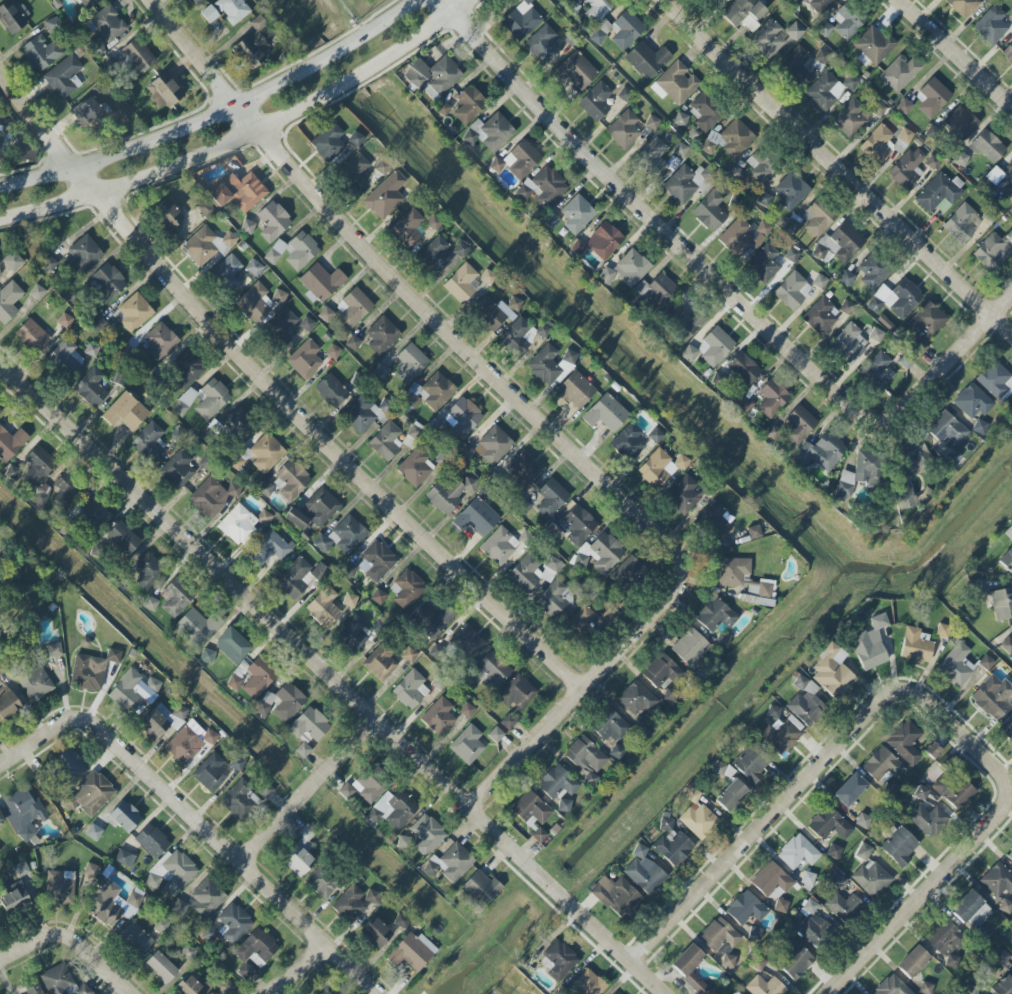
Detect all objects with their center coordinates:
building: (197, 2)
building: (716, 2)
building: (89, 3)
building: (818, 5)
road: (448, 6)
road: (459, 6)
building: (963, 6)
building: (598, 9)
building: (233, 10)
building: (744, 13)
building: (209, 14)
building: (12, 16)
building: (1011, 18)
building: (521, 20)
building: (847, 21)
building: (107, 24)
building: (991, 25)
building: (626, 29)
building: (795, 31)
building: (769, 39)
building: (254, 44)
building: (541, 44)
building: (873, 47)
building: (41, 52)
building: (1008, 53)
road: (954, 54)
building: (135, 58)
building: (647, 60)
building: (798, 63)
building: (576, 71)
building: (900, 73)
building: (433, 76)
building: (64, 77)
building: (850, 82)
building: (675, 84)
building: (163, 90)
building: (824, 91)
building: (933, 97)
building: (595, 102)
building: (468, 105)
building: (904, 106)
building: (878, 110)
building: (87, 111)
road: (216, 113)
building: (704, 113)
building: (0, 119)
building: (851, 119)
building: (681, 120)
building: (652, 122)
building: (961, 123)
building: (624, 130)
building: (933, 132)
building: (489, 133)
building: (905, 136)
road: (237, 138)
building: (735, 138)
building: (355, 139)
building: (328, 142)
building: (878, 145)
building: (987, 146)
building: (680, 150)
building: (652, 157)
building: (521, 159)
building: (960, 159)
building: (932, 162)
building: (496, 165)
building: (382, 167)
road: (841, 168)
building: (907, 168)
building: (760, 169)
building: (354, 172)
building: (1006, 181)
building: (686, 184)
building: (543, 187)
building: (239, 191)
building: (790, 191)
building: (939, 193)
building: (385, 196)
building: (765, 198)
building: (710, 212)
building: (577, 214)
building: (167, 215)
building: (818, 217)
building: (551, 220)
building: (273, 221)
building: (433, 223)
building: (962, 223)
road: (656, 224)
building: (407, 229)
building: (743, 235)
building: (600, 242)
building: (839, 244)
building: (207, 245)
building: (461, 250)
building: (993, 250)
building: (295, 251)
building: (83, 254)
building: (791, 255)
building: (435, 256)
building: (13, 261)
building: (764, 263)
building: (627, 269)
building: (872, 272)
building: (227, 273)
building: (819, 281)
building: (107, 282)
building: (321, 282)
building: (658, 289)
building: (792, 290)
building: (37, 292)
road: (407, 294)
building: (279, 297)
building: (899, 298)
building: (9, 302)
building: (254, 303)
building: (353, 309)
building: (496, 312)
building: (133, 313)
building: (326, 314)
building: (821, 315)
building: (65, 320)
building: (927, 320)
building: (681, 322)
building: (306, 324)
building: (281, 327)
building: (382, 335)
building: (875, 335)
building: (32, 336)
building: (521, 336)
building: (159, 341)
building: (353, 343)
building: (848, 344)
building: (711, 348)
building: (333, 352)
building: (66, 357)
building: (305, 359)
building: (410, 363)
road: (945, 363)
building: (549, 365)
building: (744, 368)
building: (187, 370)
building: (878, 370)
building: (995, 381)
road: (285, 386)
building: (91, 388)
building: (575, 390)
building: (331, 391)
building: (436, 391)
building: (772, 399)
building: (203, 400)
building: (973, 401)
building: (745, 404)
building: (0, 411)
building: (125, 412)
building: (606, 413)
building: (362, 414)
building: (462, 418)
building: (239, 423)
building: (799, 426)
building: (980, 427)
building: (947, 429)
building: (148, 441)
building: (386, 441)
building: (628, 442)
building: (11, 443)
building: (493, 445)
building: (820, 452)
building: (266, 453)
building: (465, 453)
building: (914, 457)
building: (37, 466)
building: (415, 468)
building: (660, 468)
building: (177, 469)
building: (523, 470)
building: (13, 472)
building: (858, 474)
building: (290, 481)
building: (65, 494)
building: (685, 494)
building: (449, 495)
building: (212, 497)
building: (551, 498)
building: (905, 498)
building: (320, 507)
building: (95, 514)
building: (476, 517)
building: (714, 517)
building: (296, 519)
building: (238, 524)
building: (579, 525)
building: (1009, 534)
building: (343, 536)
building: (123, 538)
building: (499, 546)
building: (268, 549)
building: (600, 553)
building: (1006, 560)
building: (377, 561)
building: (349, 569)
building: (148, 571)
building: (533, 572)
building: (627, 573)
building: (295, 579)
building: (744, 581)
building: (406, 589)
building: (378, 597)
building: (176, 598)
building: (556, 599)
building: (351, 600)
building: (151, 604)
building: (1002, 604)
building: (325, 607)
building: (716, 615)
building: (431, 619)
building: (581, 619)
building: (195, 628)
building: (943, 631)
building: (352, 634)
building: (466, 642)
building: (232, 645)
building: (1007, 645)
building: (915, 646)
building: (690, 648)
building: (54, 649)
building: (869, 650)
building: (409, 655)
building: (207, 656)
building: (986, 663)
building: (380, 664)
building: (956, 665)
building: (91, 670)
building: (491, 671)
building: (832, 672)
building: (661, 673)
road: (334, 677)
building: (34, 682)
road: (585, 686)
building: (410, 689)
building: (134, 691)
building: (516, 693)
building: (994, 697)
building: (635, 698)
building: (805, 704)
building: (8, 706)
building: (467, 710)
building: (438, 717)
building: (162, 720)
building: (508, 721)
building: (309, 724)
building: (643, 727)
building: (1006, 727)
building: (613, 728)
building: (780, 730)
building: (496, 735)
road: (39, 739)
building: (189, 742)
building: (904, 744)
building: (467, 745)
building: (304, 746)
road: (350, 748)
building: (932, 751)
building: (617, 752)
building: (585, 755)
building: (70, 763)
building: (750, 763)
building: (882, 765)
building: (719, 768)
building: (210, 772)
building: (557, 783)
building: (368, 787)
building: (849, 790)
building: (919, 791)
building: (265, 792)
building: (954, 793)
building: (90, 795)
building: (731, 795)
building: (237, 799)
building: (531, 808)
building: (393, 810)
building: (24, 812)
building: (124, 817)
building: (697, 817)
building: (1, 820)
road: (281, 820)
building: (862, 820)
building: (928, 820)
road: (763, 824)
building: (829, 824)
building: (94, 832)
building: (427, 835)
road: (970, 835)
building: (152, 841)
building: (900, 846)
building: (673, 847)
building: (834, 851)
building: (797, 852)
building: (863, 852)
building: (300, 853)
road: (233, 854)
building: (1009, 855)
building: (125, 858)
building: (451, 861)
building: (20, 869)
building: (91, 870)
building: (644, 871)
building: (172, 873)
building: (871, 878)
building: (997, 880)
building: (771, 881)
building: (838, 881)
building: (321, 883)
building: (59, 887)
building: (481, 888)
building: (614, 892)
building: (15, 896)
building: (205, 898)
building: (354, 903)
building: (107, 905)
building: (781, 906)
building: (1005, 906)
building: (179, 907)
building: (843, 907)
building: (746, 908)
building: (811, 908)
building: (970, 909)
building: (402, 921)
building: (234, 923)
building: (813, 929)
building: (754, 933)
building: (208, 934)
building: (376, 934)
building: (719, 936)
building: (136, 938)
road: (33, 942)
building: (946, 942)
building: (255, 952)
building: (412, 952)
building: (558, 960)
building: (728, 961)
building: (795, 962)
building: (913, 962)
road: (97, 966)
building: (160, 967)
building: (689, 968)
road: (299, 970)
building: (587, 984)
building: (1004, 984)
building: (191, 986)
building: (225, 986)
building: (765, 986)
building: (892, 986)
building: (926, 988)
building: (33, 989)
building: (324, 992)
building: (614, 993)
building: (737, 993)

